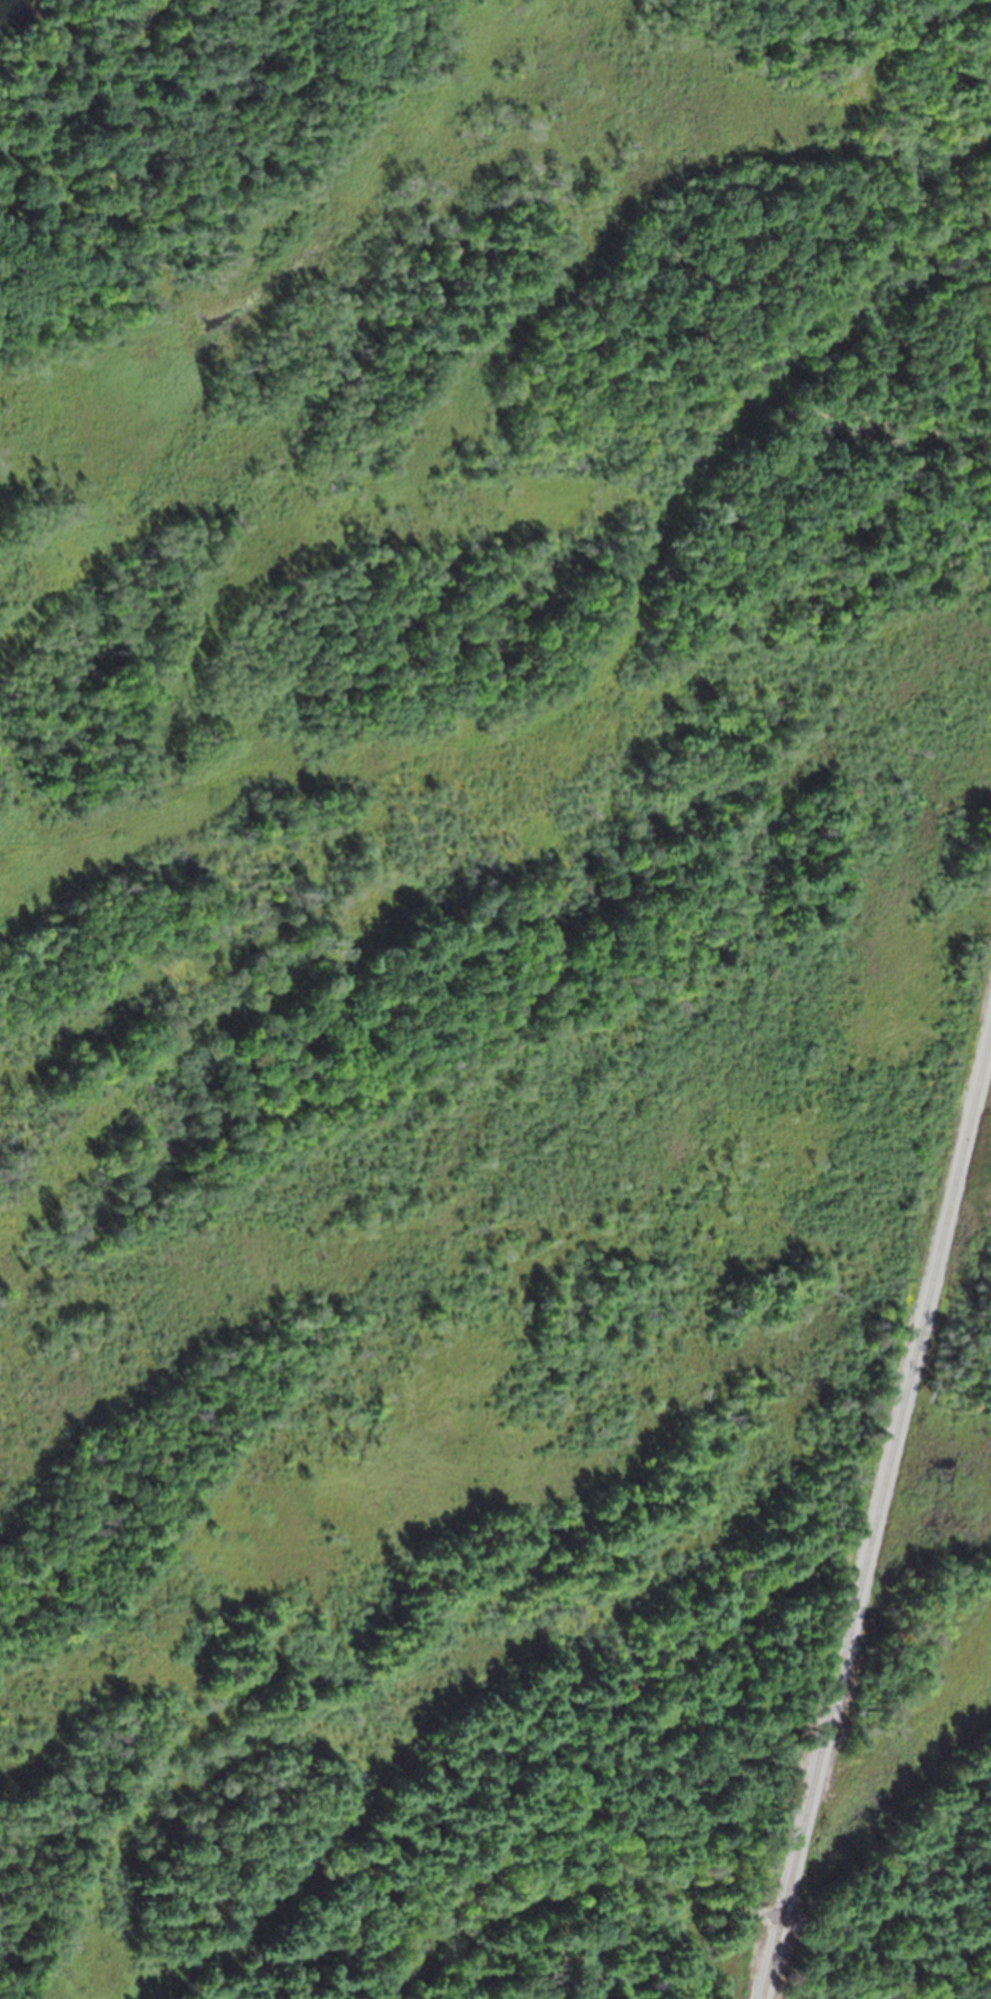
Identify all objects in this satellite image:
railway: (876, 1514)

